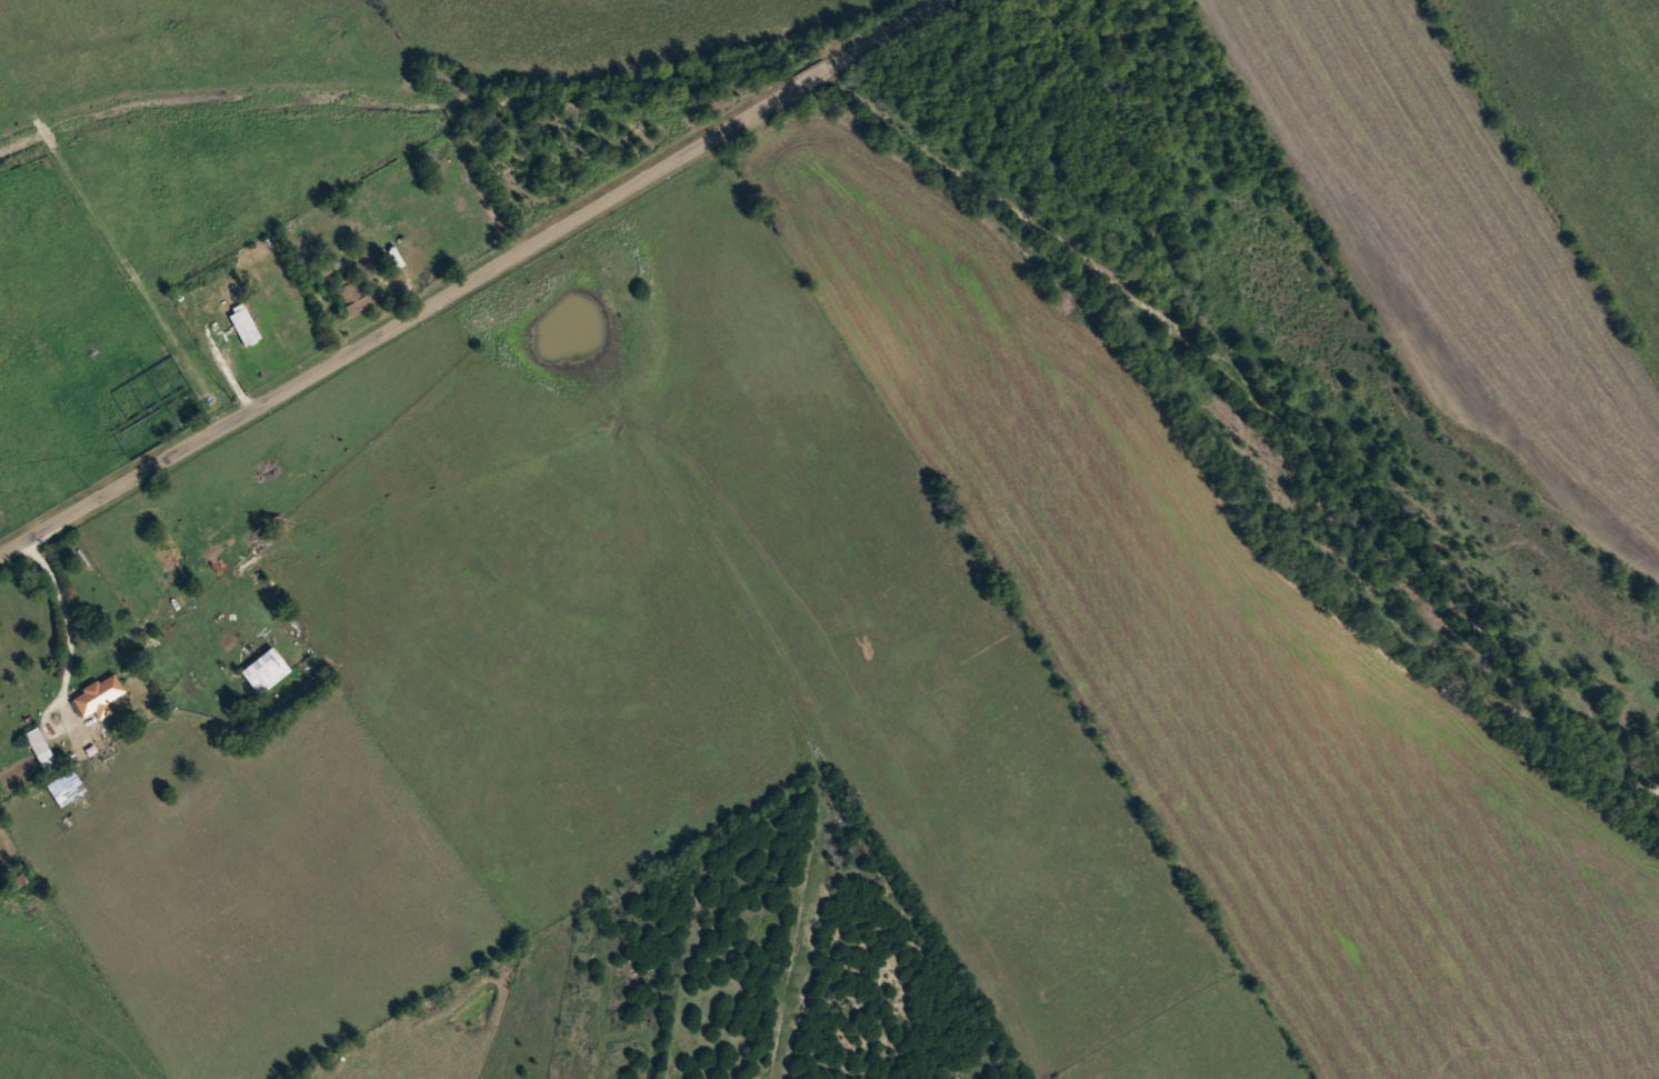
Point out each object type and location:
road: (448, 270)
building: (352, 294)
building: (243, 326)
building: (263, 670)
building: (96, 693)
building: (39, 748)
road: (953, 1062)

